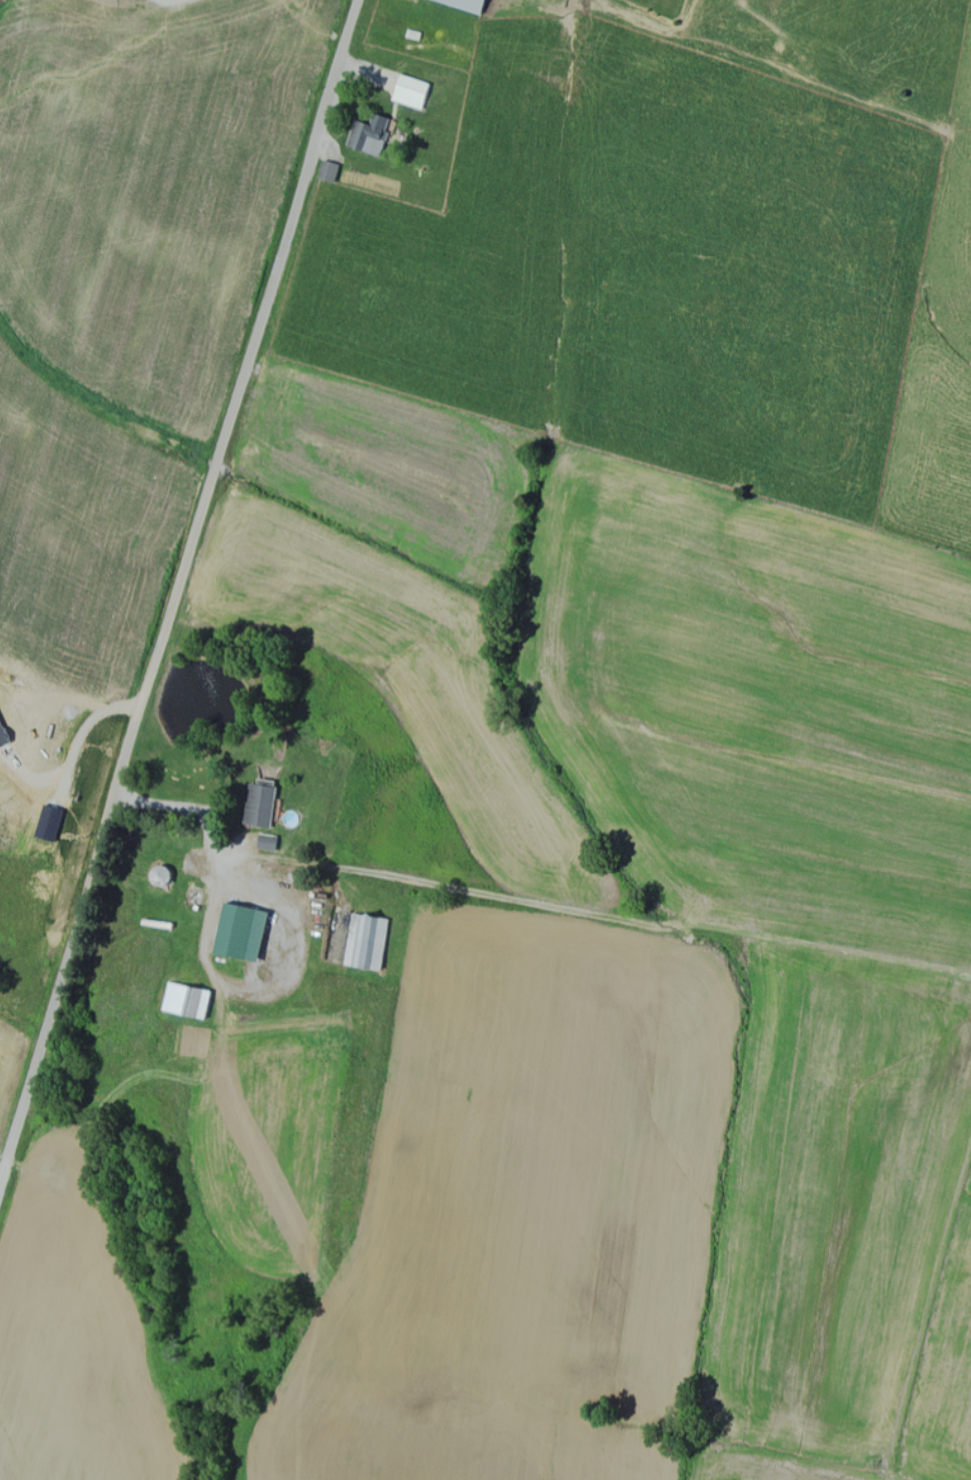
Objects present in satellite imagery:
building: (474, 5)
building: (418, 93)
building: (376, 135)
building: (335, 172)
road: (177, 595)
building: (260, 806)
building: (237, 933)
building: (366, 942)
building: (184, 1001)

